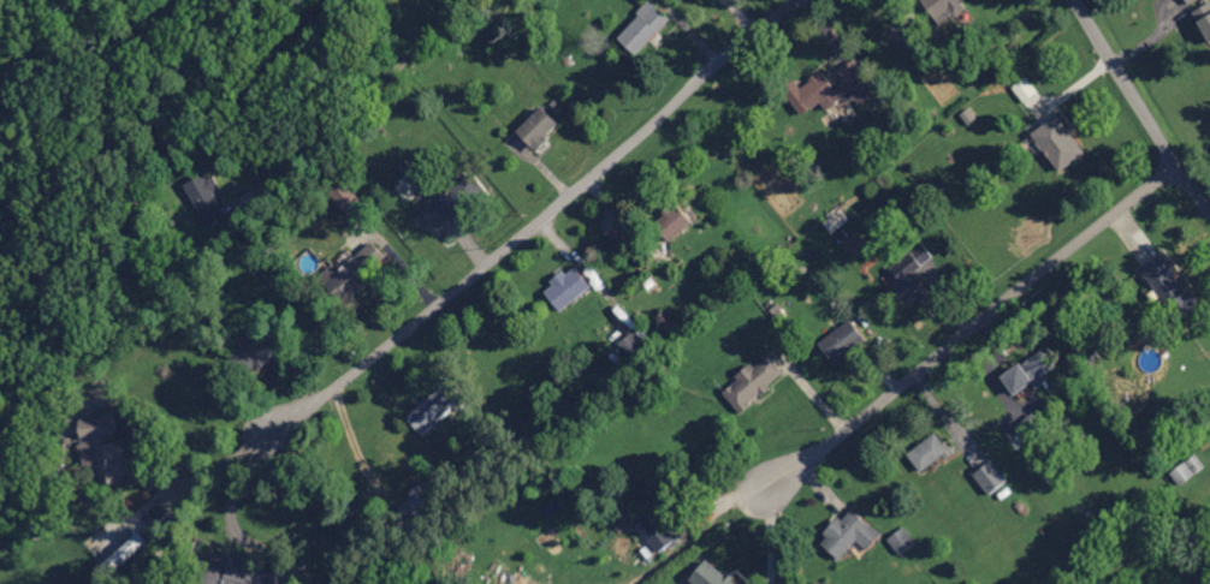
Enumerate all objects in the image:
building: (1190, 1)
building: (943, 8)
building: (1204, 17)
building: (642, 26)
building: (823, 88)
building: (1024, 88)
road: (366, 96)
road: (1140, 107)
building: (538, 126)
building: (1057, 142)
road: (591, 177)
building: (206, 195)
building: (453, 198)
building: (672, 221)
building: (350, 273)
building: (917, 274)
building: (1169, 285)
building: (567, 287)
road: (1000, 303)
building: (841, 340)
building: (631, 345)
building: (254, 348)
building: (1026, 374)
building: (752, 382)
road: (330, 393)
building: (433, 407)
building: (103, 449)
building: (927, 451)
building: (1187, 467)
road: (186, 469)
building: (990, 476)
road: (743, 497)
building: (656, 525)
building: (849, 534)
road: (771, 547)
building: (120, 555)
building: (238, 572)
building: (708, 576)

